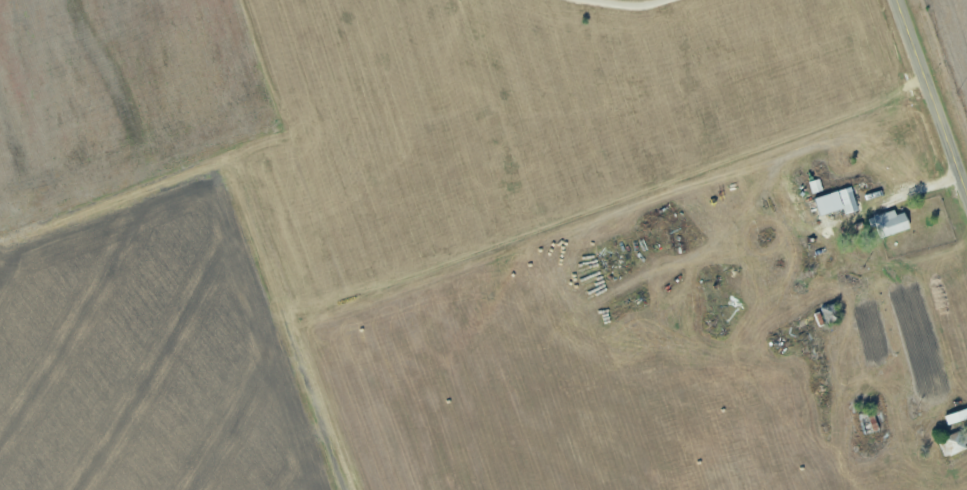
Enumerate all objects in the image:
road: (625, 4)
road: (932, 94)
road: (921, 197)
building: (836, 202)
building: (889, 223)
building: (956, 417)

